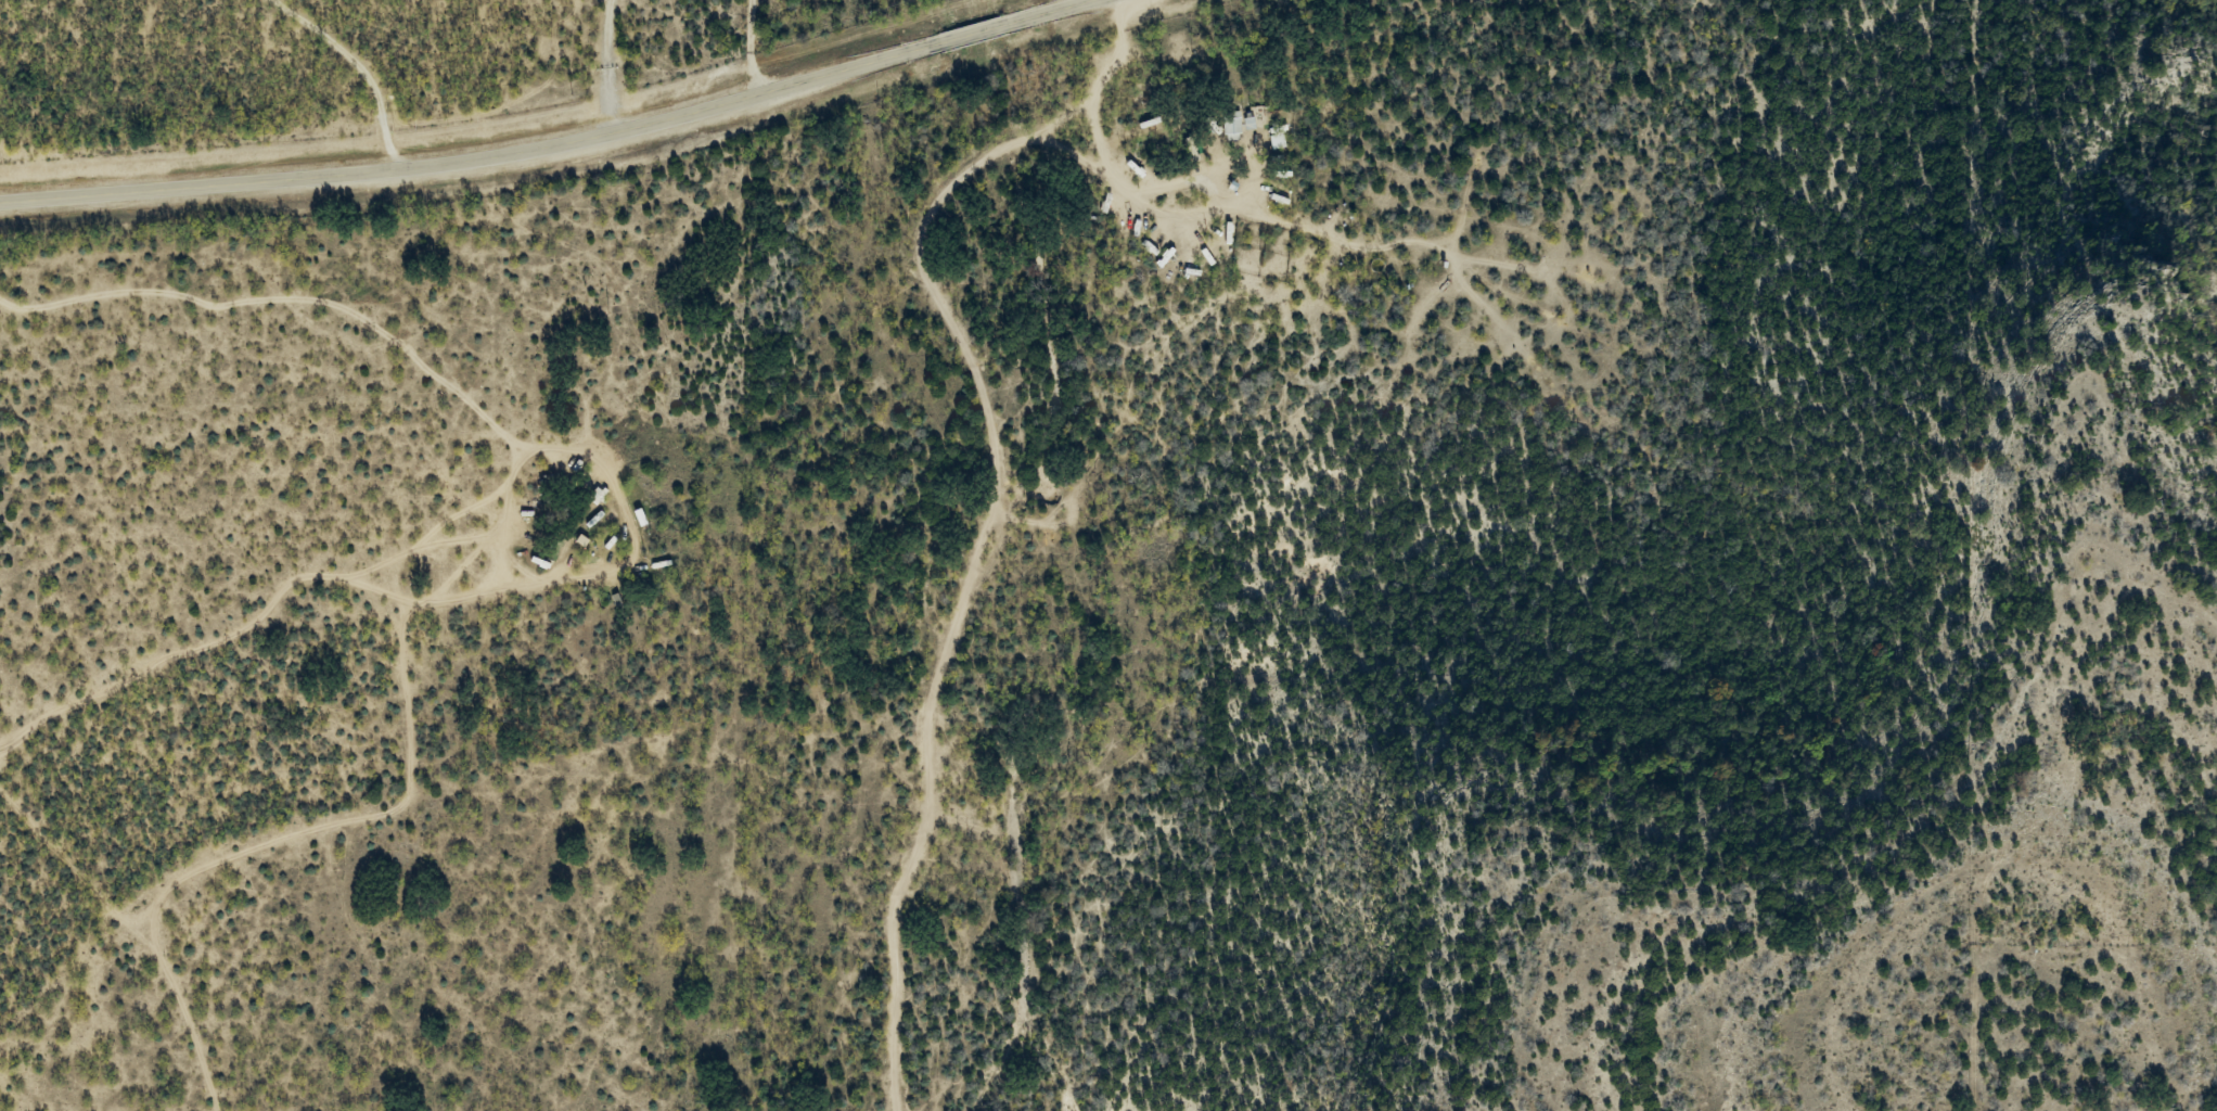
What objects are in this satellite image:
building: (1231, 124)
building: (1277, 139)
road: (553, 142)
building: (627, 467)
road: (987, 527)

